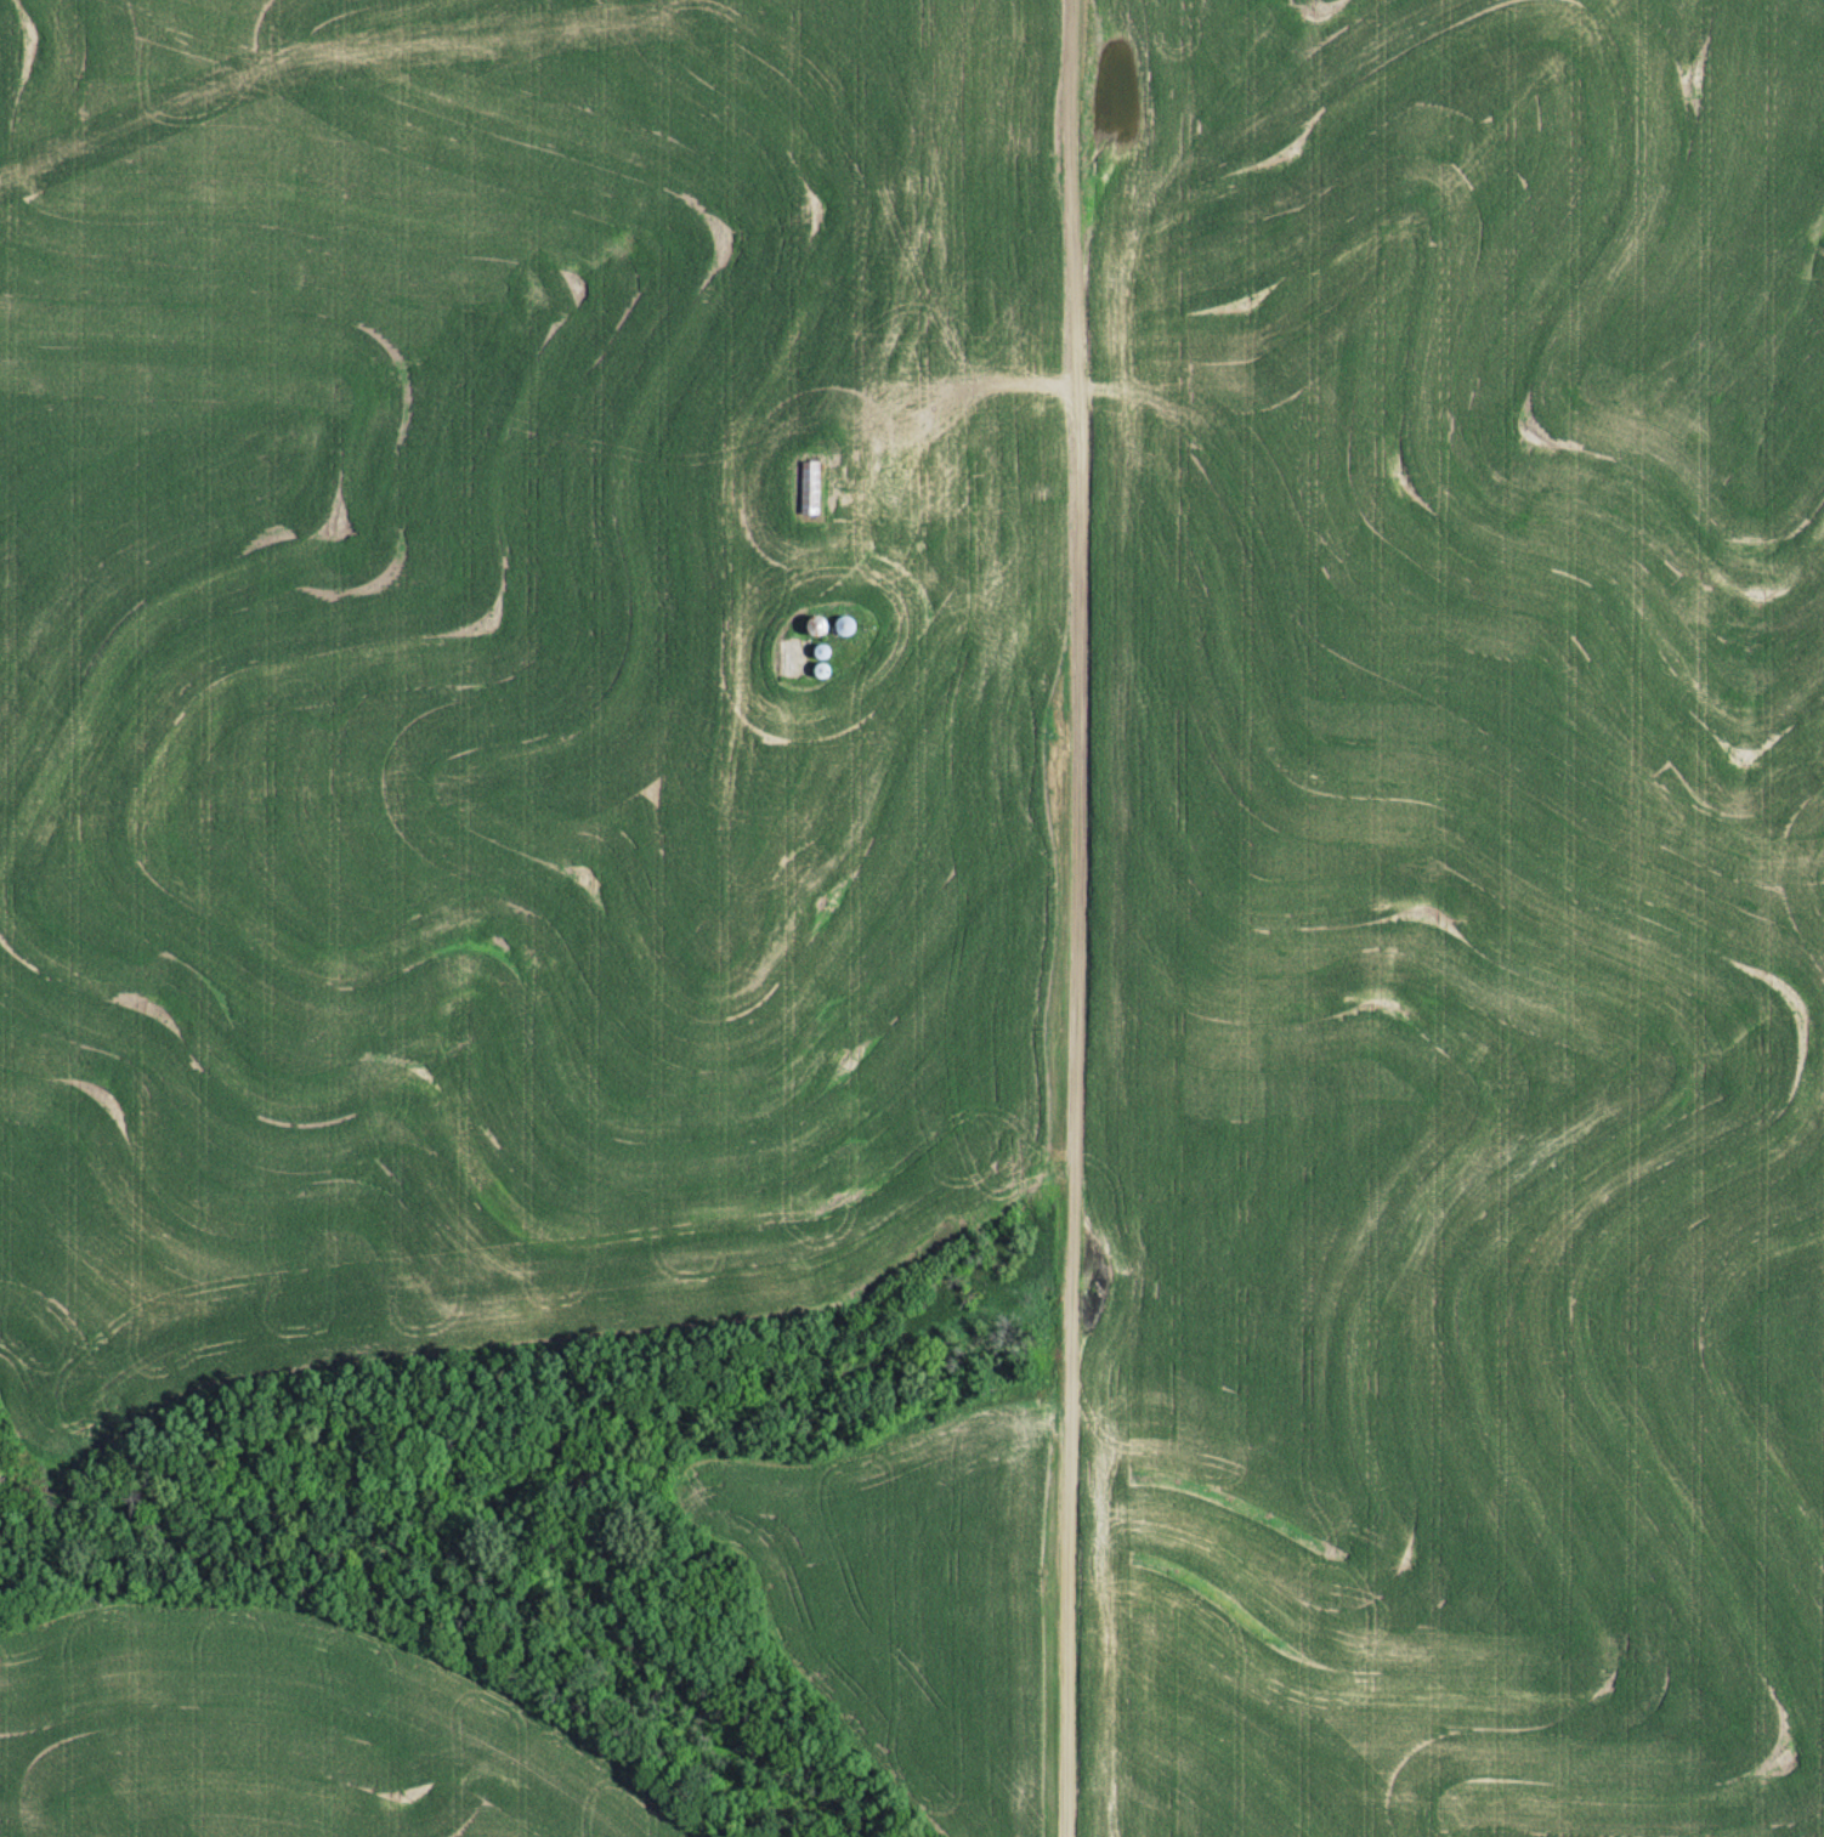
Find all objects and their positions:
building: (809, 486)
road: (1084, 918)

